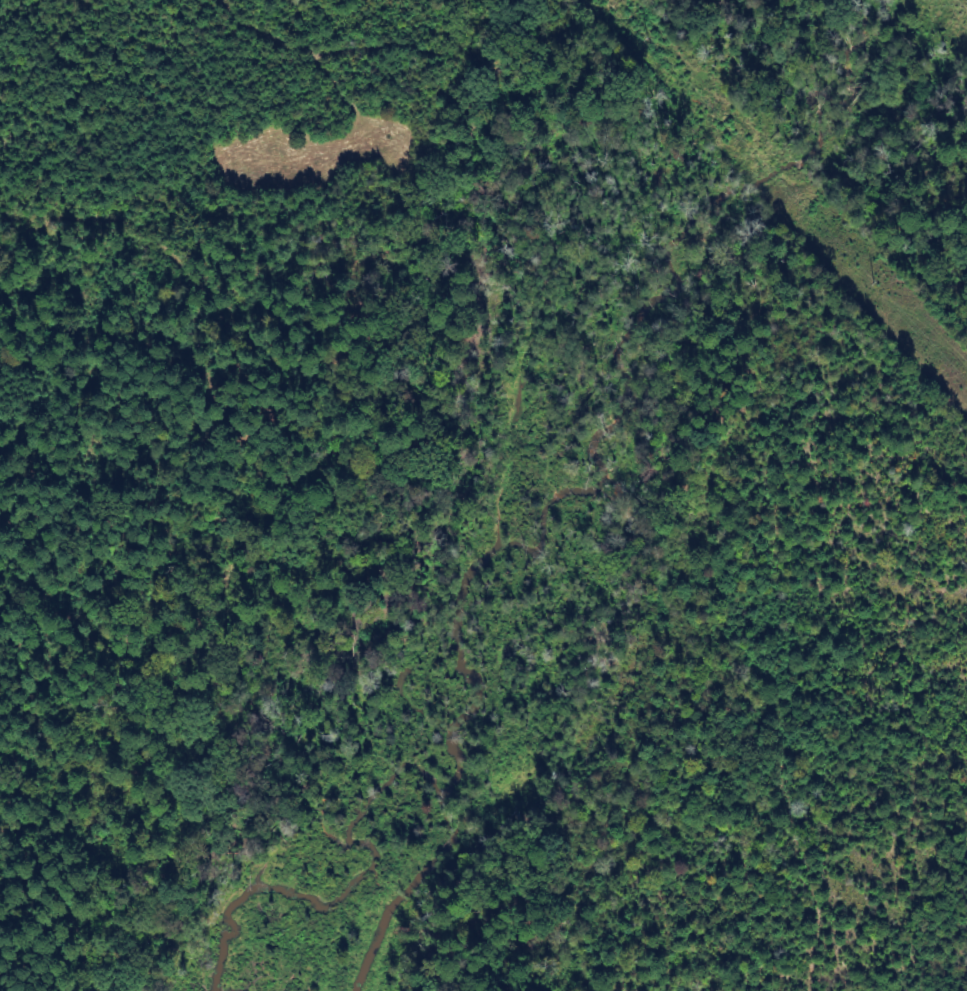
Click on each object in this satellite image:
power tower: (652, 39)
power tower: (875, 283)

